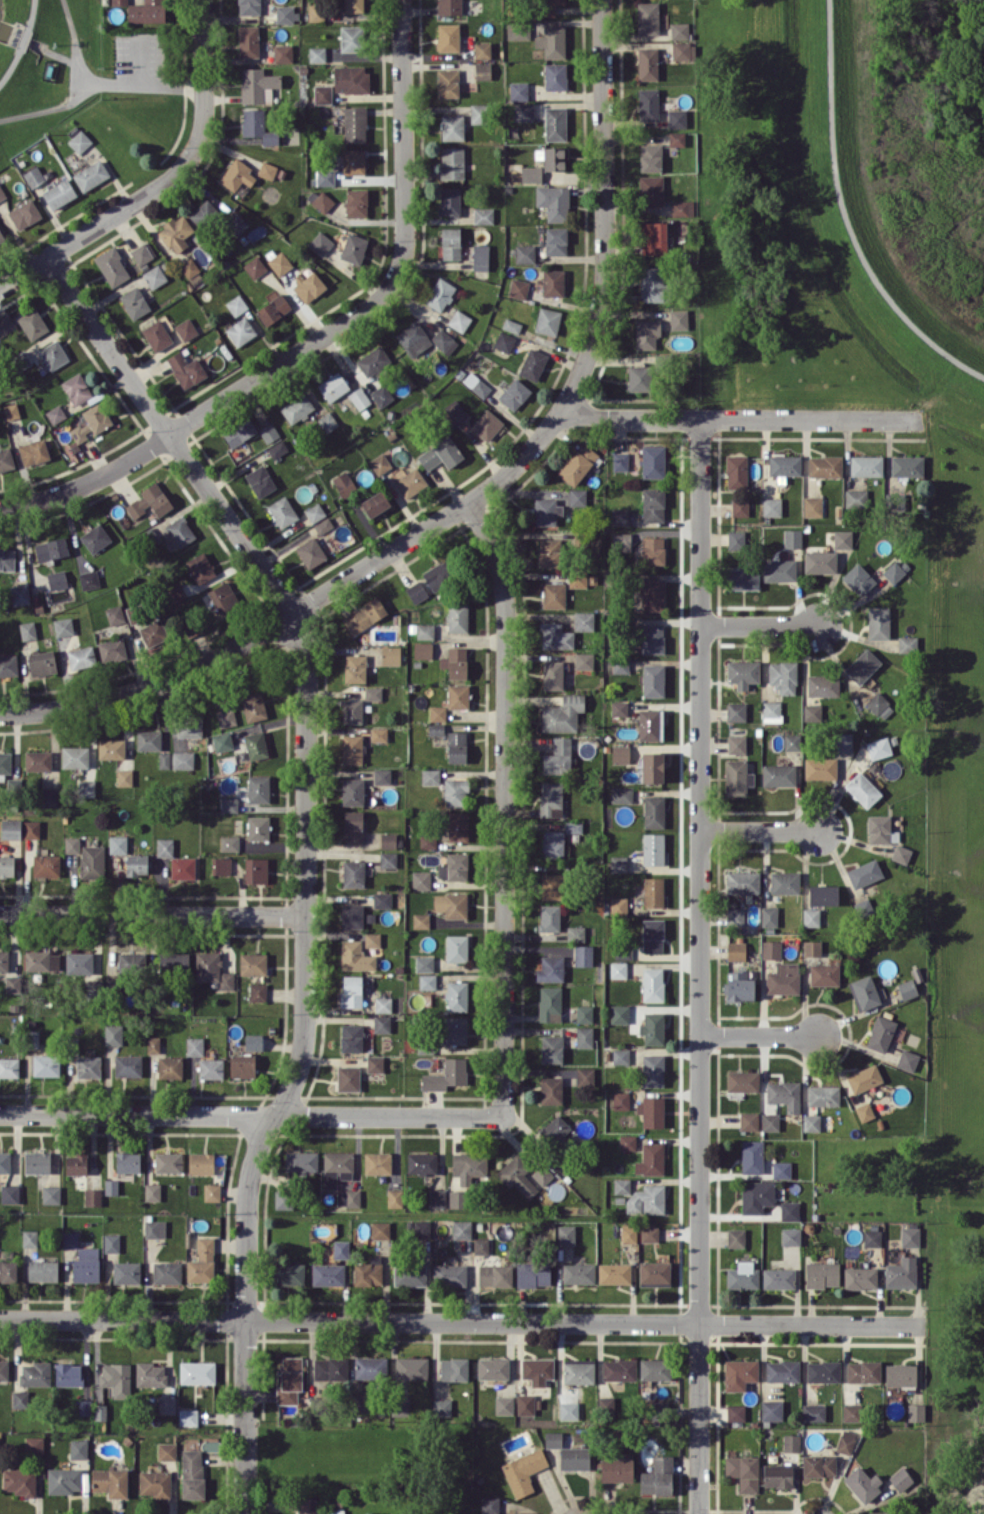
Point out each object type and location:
building: (119, 2)
building: (353, 6)
building: (547, 6)
building: (249, 7)
building: (449, 7)
building: (146, 11)
building: (315, 12)
building: (286, 14)
building: (647, 18)
building: (517, 30)
building: (679, 30)
river: (22, 36)
building: (447, 37)
building: (350, 38)
building: (248, 41)
building: (551, 41)
road: (22, 43)
building: (482, 49)
building: (682, 51)
building: (282, 53)
building: (316, 53)
parking lot: (140, 58)
building: (647, 63)
building: (482, 70)
building: (555, 76)
building: (350, 78)
road: (108, 81)
building: (447, 83)
building: (256, 84)
road: (167, 87)
road: (83, 88)
building: (518, 90)
building: (322, 94)
building: (647, 104)
building: (523, 111)
building: (477, 113)
building: (676, 118)
building: (555, 123)
building: (354, 124)
building: (257, 126)
building: (452, 127)
building: (676, 138)
building: (79, 141)
building: (551, 157)
building: (650, 157)
building: (353, 161)
road: (182, 162)
building: (451, 162)
building: (267, 170)
building: (530, 174)
building: (90, 175)
building: (237, 175)
building: (33, 176)
building: (324, 177)
building: (650, 190)
building: (2, 193)
building: (59, 193)
building: (319, 199)
building: (449, 201)
building: (553, 201)
building: (356, 202)
building: (681, 208)
building: (204, 212)
building: (24, 214)
road: (847, 214)
building: (483, 215)
building: (236, 223)
building: (176, 232)
building: (1, 236)
building: (653, 238)
building: (555, 241)
park: (820, 241)
building: (320, 243)
building: (450, 243)
building: (353, 248)
building: (141, 253)
building: (524, 253)
building: (480, 257)
building: (279, 263)
building: (111, 266)
building: (255, 266)
building: (189, 267)
road: (23, 270)
building: (154, 276)
building: (553, 282)
building: (652, 283)
building: (308, 285)
building: (518, 288)
building: (440, 294)
building: (134, 302)
building: (236, 304)
building: (273, 309)
building: (678, 319)
building: (459, 320)
building: (547, 320)
building: (6, 323)
building: (32, 323)
building: (511, 325)
building: (185, 329)
building: (240, 331)
building: (646, 333)
road: (324, 334)
building: (156, 335)
building: (423, 338)
building: (503, 342)
building: (53, 354)
building: (373, 360)
building: (532, 364)
building: (186, 369)
building: (638, 378)
building: (476, 384)
building: (333, 386)
building: (76, 388)
building: (514, 393)
building: (382, 394)
building: (359, 398)
building: (297, 408)
building: (11, 410)
building: (455, 411)
building: (55, 414)
road: (737, 418)
building: (327, 421)
building: (91, 423)
building: (486, 424)
building: (239, 431)
building: (268, 432)
building: (277, 449)
building: (34, 452)
building: (440, 454)
building: (6, 459)
building: (620, 461)
building: (652, 461)
building: (380, 463)
building: (578, 463)
building: (865, 465)
building: (906, 465)
building: (783, 466)
building: (824, 466)
building: (260, 480)
building: (410, 482)
building: (737, 484)
road: (479, 493)
building: (855, 498)
building: (150, 501)
building: (375, 503)
building: (652, 504)
building: (771, 506)
building: (812, 506)
building: (282, 511)
building: (546, 511)
building: (315, 512)
building: (620, 516)
building: (323, 525)
building: (180, 531)
building: (95, 538)
building: (792, 538)
building: (735, 539)
building: (842, 539)
building: (621, 541)
building: (51, 548)
building: (652, 550)
building: (310, 552)
building: (548, 552)
building: (7, 559)
building: (819, 562)
building: (200, 567)
building: (778, 569)
building: (893, 572)
building: (438, 575)
building: (577, 578)
building: (742, 578)
building: (57, 579)
building: (88, 579)
building: (858, 579)
building: (416, 591)
building: (19, 594)
building: (653, 594)
building: (553, 595)
building: (222, 596)
building: (115, 614)
building: (364, 616)
building: (457, 617)
building: (583, 620)
building: (878, 622)
road: (758, 624)
building: (63, 626)
building: (28, 630)
building: (425, 631)
building: (152, 632)
building: (555, 636)
building: (651, 638)
building: (907, 643)
building: (112, 649)
building: (422, 650)
building: (390, 655)
building: (81, 657)
building: (583, 660)
building: (42, 662)
building: (455, 662)
building: (8, 665)
building: (620, 666)
building: (862, 666)
building: (354, 668)
building: (742, 673)
building: (552, 674)
building: (783, 676)
building: (653, 680)
building: (823, 685)
building: (372, 693)
building: (457, 696)
building: (876, 702)
building: (253, 706)
building: (618, 708)
building: (351, 710)
building: (736, 711)
building: (771, 711)
building: (812, 712)
building: (437, 713)
building: (562, 714)
building: (226, 717)
building: (649, 724)
building: (189, 726)
building: (435, 728)
building: (378, 734)
building: (148, 740)
building: (222, 741)
building: (792, 741)
building: (843, 742)
building: (736, 744)
building: (255, 745)
building: (456, 746)
building: (111, 748)
building: (878, 748)
building: (351, 749)
building: (620, 754)
building: (74, 756)
building: (558, 756)
building: (164, 759)
building: (182, 759)
building: (37, 760)
building: (5, 762)
building: (652, 766)
building: (819, 768)
building: (778, 775)
building: (381, 776)
building: (429, 776)
building: (124, 777)
building: (737, 777)
building: (86, 788)
building: (258, 788)
building: (862, 789)
building: (352, 791)
building: (455, 791)
building: (621, 794)
building: (48, 796)
building: (550, 798)
building: (228, 803)
road: (504, 804)
building: (653, 811)
building: (353, 826)
building: (457, 826)
building: (573, 826)
building: (258, 827)
building: (11, 828)
building: (31, 829)
road: (757, 829)
building: (880, 829)
building: (388, 840)
building: (427, 841)
building: (229, 843)
building: (552, 843)
building: (71, 844)
building: (117, 844)
building: (164, 847)
building: (653, 848)
road: (305, 851)
building: (901, 853)
building: (388, 859)
building: (92, 860)
building: (618, 863)
building: (137, 864)
building: (46, 865)
building: (220, 865)
building: (6, 866)
building: (182, 867)
building: (454, 867)
building: (256, 870)
building: (353, 873)
building: (864, 873)
building: (420, 880)
building: (742, 882)
building: (784, 882)
building: (552, 886)
building: (653, 891)
building: (823, 895)
building: (381, 899)
building: (451, 904)
building: (618, 906)
road: (152, 914)
building: (352, 915)
building: (769, 915)
building: (734, 916)
building: (549, 917)
building: (810, 917)
building: (420, 920)
building: (575, 933)
building: (652, 935)
building: (371, 939)
building: (457, 947)
building: (811, 948)
building: (770, 949)
building: (735, 950)
building: (582, 955)
building: (355, 956)
building: (3, 960)
building: (41, 960)
building: (174, 961)
building: (79, 962)
building: (130, 962)
building: (252, 963)
building: (424, 963)
road: (699, 965)
building: (550, 969)
building: (618, 969)
building: (212, 970)
building: (824, 974)
building: (783, 978)
building: (427, 981)
building: (13, 983)
building: (652, 984)
building: (739, 986)
building: (907, 988)
building: (257, 991)
building: (351, 991)
building: (864, 992)
building: (456, 995)
building: (549, 1003)
building: (382, 1004)
building: (583, 1013)
building: (619, 1013)
building: (381, 1023)
building: (652, 1028)
building: (456, 1029)
building: (880, 1033)
building: (113, 1034)
road: (759, 1034)
building: (584, 1036)
building: (351, 1037)
building: (253, 1041)
building: (153, 1044)
building: (194, 1045)
building: (551, 1048)
building: (620, 1056)
building: (907, 1060)
building: (374, 1063)
building: (46, 1065)
building: (127, 1065)
building: (242, 1065)
building: (9, 1066)
building: (88, 1067)
building: (170, 1067)
building: (210, 1068)
building: (652, 1070)
building: (584, 1074)
building: (446, 1075)
building: (348, 1077)
building: (864, 1078)
building: (742, 1081)
building: (550, 1089)
building: (784, 1094)
building: (822, 1095)
building: (620, 1100)
building: (650, 1111)
building: (864, 1111)
road: (250, 1113)
building: (748, 1121)
building: (769, 1121)
building: (811, 1122)
building: (556, 1129)
building: (627, 1142)
building: (751, 1156)
building: (650, 1159)
building: (168, 1161)
building: (301, 1161)
building: (4, 1162)
building: (37, 1162)
building: (128, 1162)
building: (377, 1162)
building: (421, 1162)
building: (76, 1163)
building: (200, 1163)
building: (468, 1165)
building: (336, 1167)
building: (781, 1169)
building: (542, 1174)
building: (516, 1176)
building: (621, 1185)
building: (111, 1186)
building: (152, 1191)
building: (211, 1191)
building: (9, 1193)
building: (51, 1194)
building: (92, 1196)
building: (756, 1196)
building: (394, 1197)
building: (347, 1198)
building: (436, 1198)
building: (457, 1198)
building: (284, 1199)
building: (646, 1199)
building: (789, 1210)
building: (154, 1228)
building: (380, 1229)
building: (421, 1229)
building: (461, 1229)
building: (628, 1233)
building: (649, 1233)
building: (565, 1234)
building: (790, 1236)
building: (909, 1236)
building: (735, 1237)
building: (871, 1237)
building: (29, 1238)
building: (70, 1239)
building: (111, 1242)
building: (480, 1245)
building: (340, 1249)
building: (201, 1261)
building: (86, 1265)
building: (8, 1270)
building: (43, 1270)
building: (368, 1271)
building: (126, 1272)
building: (166, 1272)
building: (578, 1273)
building: (614, 1273)
building: (653, 1273)
building: (901, 1273)
building: (287, 1274)
building: (328, 1274)
building: (448, 1274)
building: (533, 1274)
building: (821, 1274)
building: (409, 1275)
building: (495, 1275)
building: (742, 1275)
building: (860, 1277)
building: (778, 1278)
road: (461, 1320)
building: (370, 1367)
building: (411, 1367)
building: (330, 1368)
building: (492, 1368)
building: (655, 1368)
building: (4, 1369)
building: (453, 1369)
building: (618, 1369)
building: (537, 1370)
building: (782, 1370)
building: (578, 1371)
building: (823, 1371)
building: (863, 1371)
building: (197, 1372)
building: (35, 1373)
building: (739, 1373)
building: (68, 1374)
building: (149, 1374)
building: (900, 1374)
building: (116, 1378)
building: (289, 1380)
building: (21, 1398)
building: (359, 1403)
building: (166, 1404)
building: (503, 1404)
building: (525, 1404)
building: (400, 1405)
building: (441, 1406)
building: (84, 1407)
building: (771, 1409)
building: (100, 1411)
building: (735, 1412)
building: (813, 1412)
building: (851, 1412)
building: (915, 1412)
building: (187, 1417)
building: (553, 1439)
building: (791, 1442)
building: (846, 1442)
building: (34, 1445)
building: (78, 1448)
building: (166, 1451)
building: (574, 1458)
building: (818, 1465)
building: (617, 1468)
building: (523, 1471)
building: (743, 1471)
building: (192, 1473)
building: (777, 1475)
building: (657, 1476)
building: (900, 1478)
building: (64, 1480)
building: (19, 1481)
building: (110, 1481)
building: (154, 1483)
building: (862, 1483)
building: (306, 1505)
building: (489, 1505)
building: (877, 1512)
building: (520, 1513)

